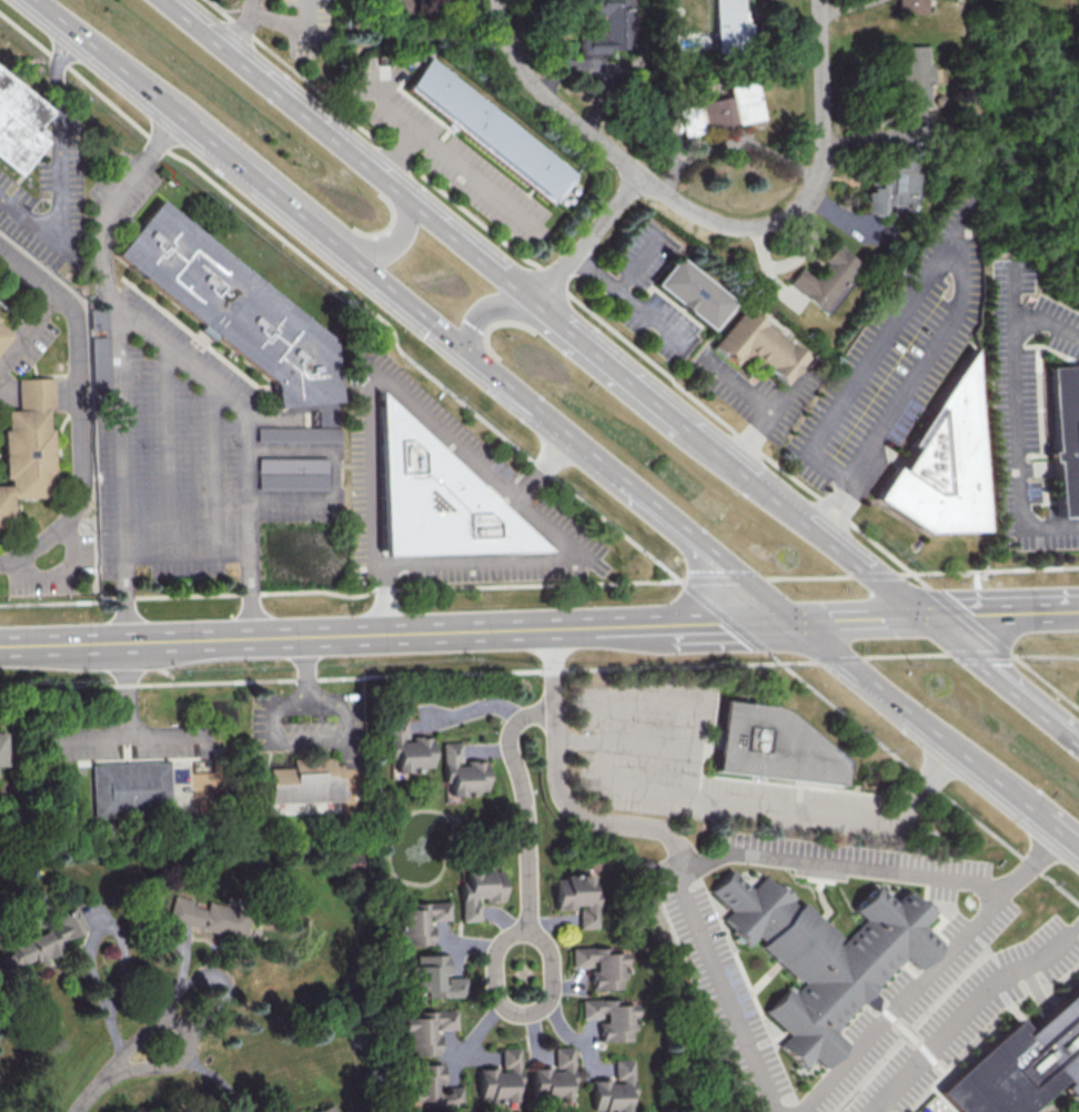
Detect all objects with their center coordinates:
building: (908, 6)
building: (402, 9)
building: (729, 24)
road: (293, 26)
road: (244, 28)
building: (608, 28)
road: (108, 62)
building: (910, 81)
road: (553, 98)
building: (722, 109)
building: (18, 127)
building: (490, 133)
road: (733, 141)
road: (347, 150)
road: (450, 161)
road: (60, 180)
road: (260, 188)
building: (893, 188)
road: (808, 192)
road: (585, 237)
road: (387, 249)
road: (961, 252)
road: (637, 262)
building: (825, 280)
road: (349, 292)
road: (566, 292)
building: (692, 294)
road: (628, 299)
building: (232, 309)
road: (486, 312)
road: (28, 326)
road: (1049, 328)
building: (1, 336)
building: (760, 347)
traffic signals: (462, 351)
road: (607, 363)
building: (98, 364)
road: (480, 364)
road: (118, 366)
road: (739, 387)
building: (32, 395)
road: (79, 408)
road: (770, 423)
road: (1025, 426)
building: (298, 434)
building: (1067, 439)
road: (244, 442)
building: (27, 453)
road: (169, 453)
building: (942, 466)
road: (213, 469)
road: (545, 471)
building: (292, 473)
road: (504, 488)
building: (435, 499)
building: (4, 505)
road: (799, 518)
road: (682, 527)
road: (185, 556)
road: (996, 570)
road: (63, 575)
road: (726, 575)
road: (880, 576)
road: (807, 577)
road: (343, 595)
road: (767, 596)
road: (998, 613)
traffic signals: (918, 615)
road: (725, 616)
road: (856, 617)
traffic signals: (795, 619)
road: (726, 620)
road: (969, 620)
road: (633, 624)
road: (303, 634)
road: (979, 654)
road: (1046, 655)
road: (840, 656)
road: (906, 656)
road: (305, 665)
road: (810, 670)
road: (409, 675)
road: (998, 680)
road: (1046, 680)
road: (128, 688)
road: (919, 718)
road: (129, 737)
road: (307, 738)
road: (626, 742)
building: (773, 745)
building: (406, 747)
building: (2, 748)
building: (461, 770)
road: (922, 776)
road: (555, 777)
building: (305, 780)
building: (130, 788)
road: (666, 790)
road: (524, 806)
road: (1061, 831)
building: (351, 862)
road: (864, 866)
road: (824, 876)
building: (478, 890)
building: (577, 897)
building: (208, 910)
road: (826, 916)
building: (417, 921)
road: (975, 936)
building: (44, 940)
road: (91, 947)
building: (823, 956)
building: (601, 966)
parking lot: (718, 971)
road: (914, 971)
building: (434, 977)
road: (549, 977)
road: (758, 988)
road: (1037, 989)
road: (725, 991)
road: (877, 1000)
road: (911, 1001)
road: (969, 1012)
road: (893, 1015)
parking lot: (967, 1015)
building: (611, 1018)
building: (424, 1030)
road: (910, 1032)
road: (769, 1042)
road: (930, 1054)
building: (1020, 1063)
road: (114, 1071)
road: (205, 1074)
building: (500, 1076)
building: (553, 1076)
building: (430, 1086)
road: (934, 1088)
building: (613, 1089)
building: (322, 1109)

